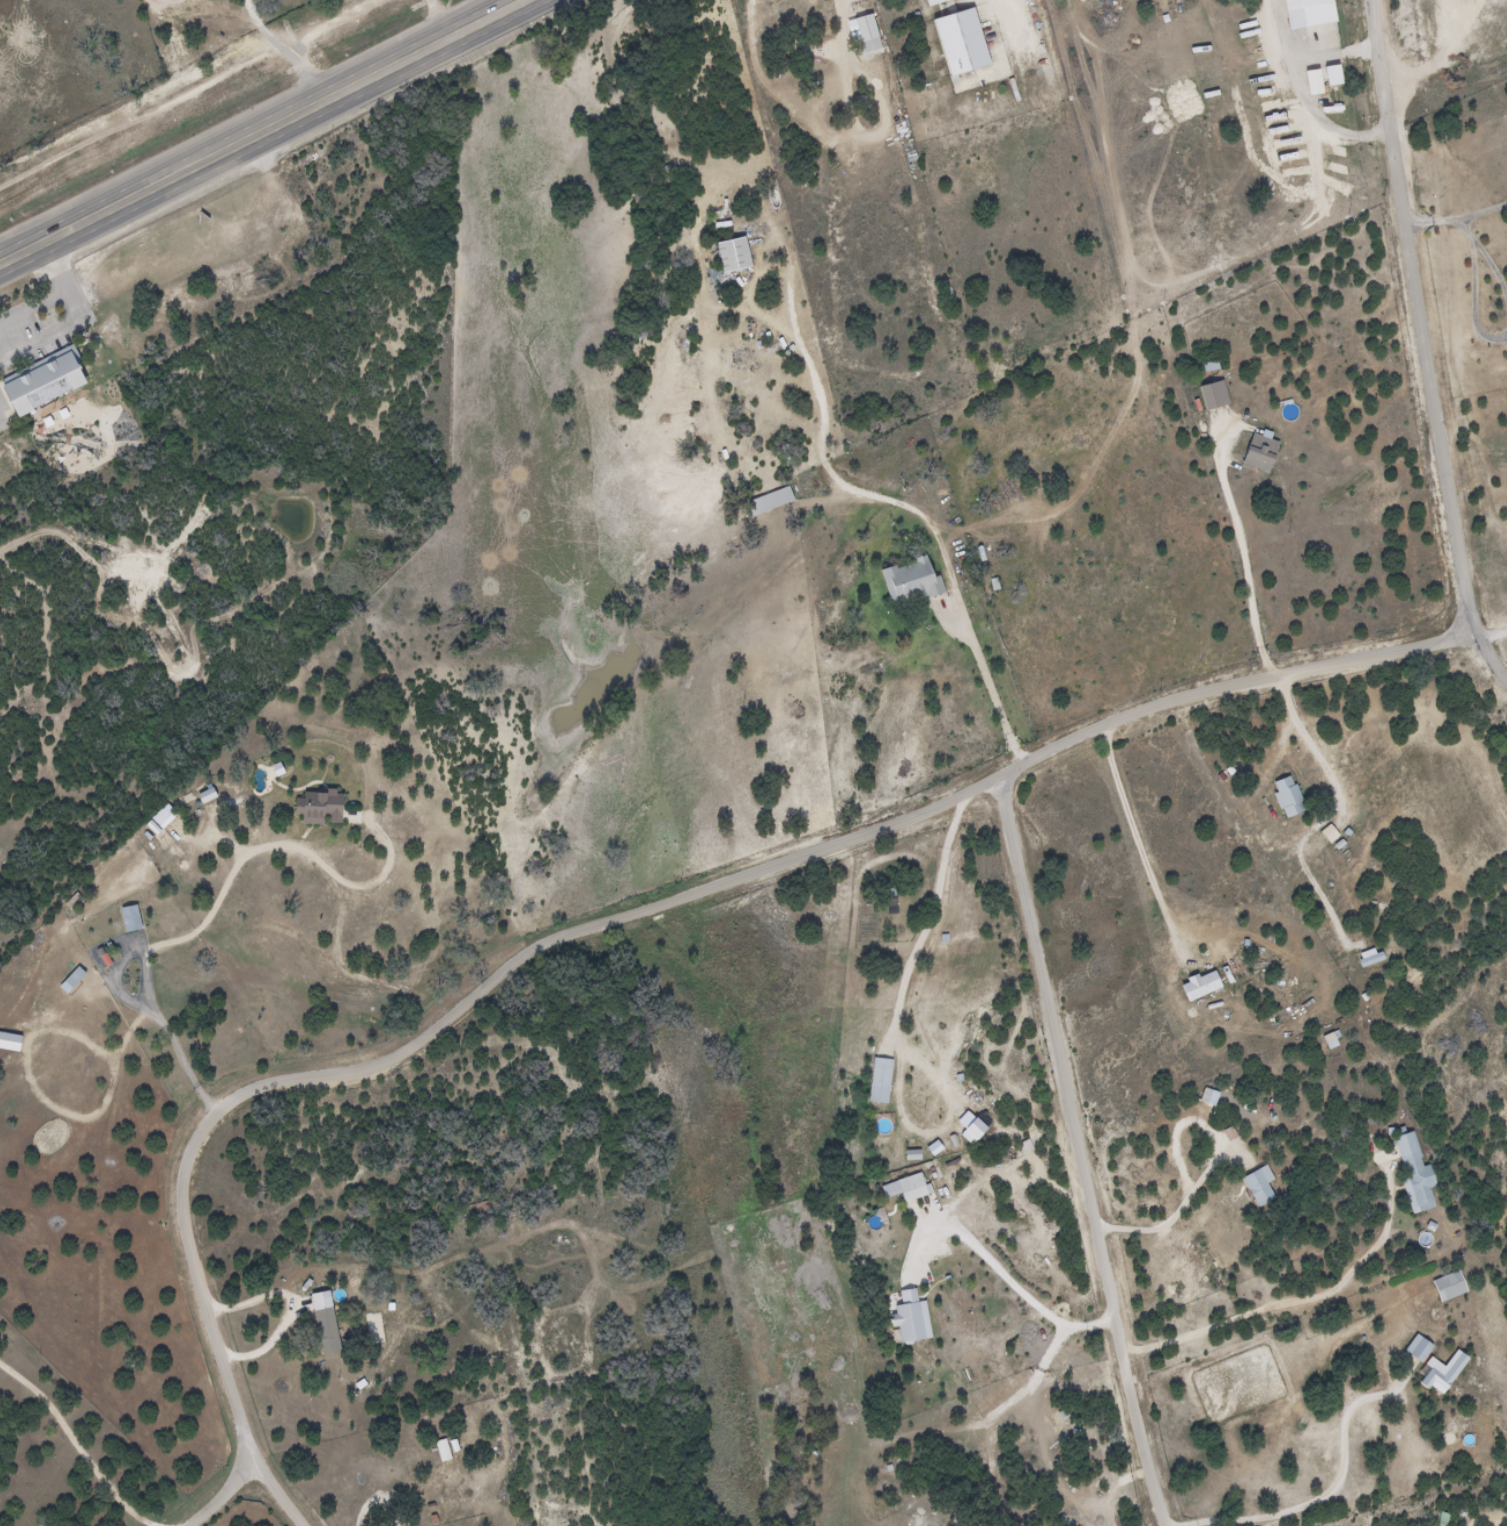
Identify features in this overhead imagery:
building: (934, 1)
building: (946, 3)
building: (1315, 17)
building: (865, 36)
building: (875, 39)
building: (969, 49)
building: (1487, 62)
building: (1328, 75)
building: (1340, 83)
road: (263, 134)
building: (730, 255)
road: (73, 315)
road: (1422, 343)
building: (1208, 366)
building: (47, 385)
building: (1211, 396)
building: (1257, 453)
building: (768, 501)
building: (908, 582)
road: (1493, 634)
road: (1235, 683)
building: (1285, 797)
building: (154, 852)
building: (127, 919)
building: (71, 979)
building: (1198, 987)
road: (410, 1045)
building: (878, 1081)
road: (1087, 1151)
building: (1412, 1174)
building: (1257, 1187)
building: (906, 1188)
building: (1017, 1210)
building: (1446, 1288)
building: (1416, 1350)
building: (1440, 1373)
road: (72, 1448)
building: (444, 1450)
road: (228, 1498)

